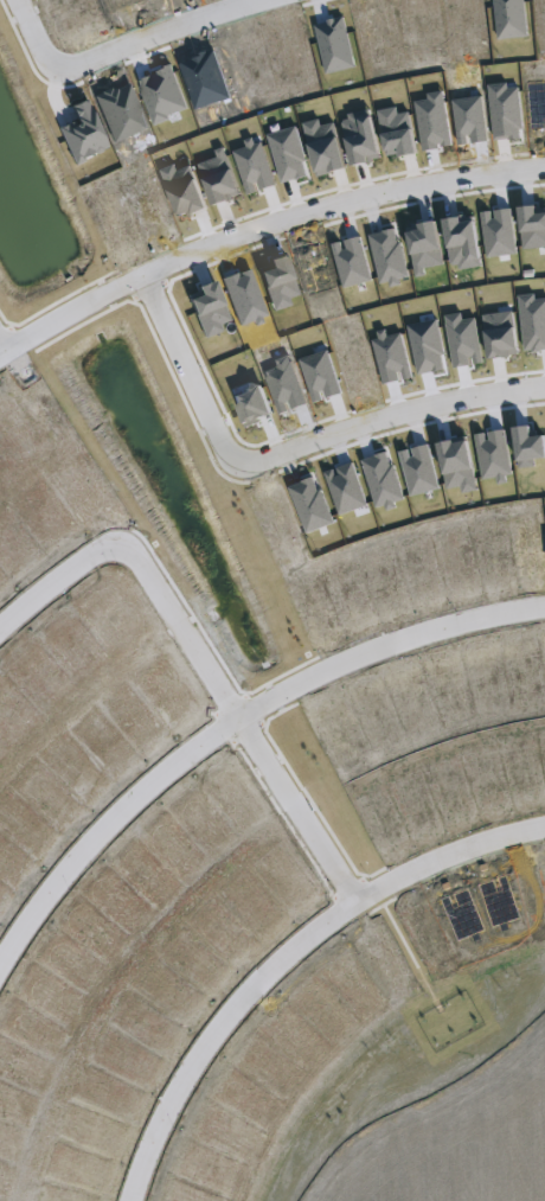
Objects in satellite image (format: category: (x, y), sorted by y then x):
road: (162, 33)
road: (33, 37)
road: (261, 225)
road: (1, 347)
road: (187, 371)
road: (392, 414)
road: (54, 581)
road: (241, 720)
road: (231, 722)
road: (284, 956)
crop: (450, 1110)

